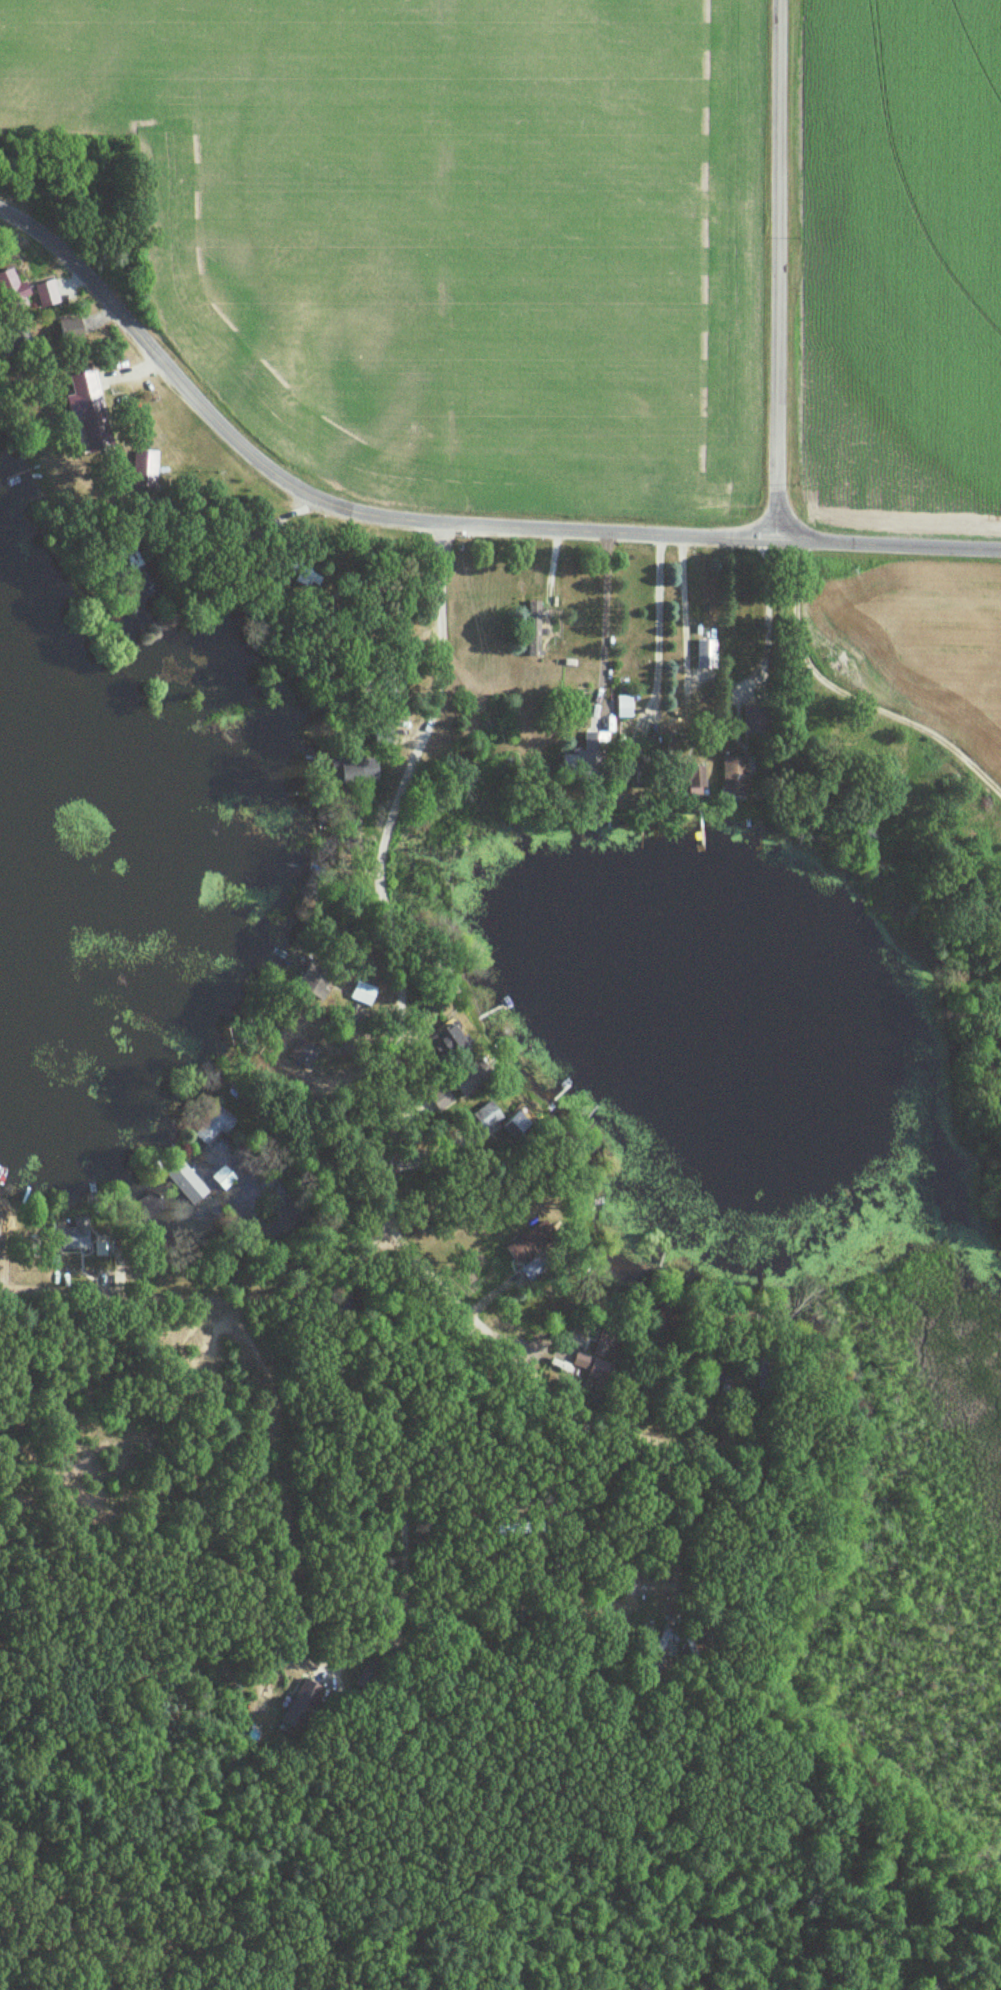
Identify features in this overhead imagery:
road: (777, 266)
building: (49, 296)
building: (93, 413)
road: (441, 525)
road: (681, 605)
road: (764, 616)
road: (602, 617)
road: (653, 620)
road: (845, 690)
building: (601, 742)
building: (728, 776)
road: (379, 863)
building: (367, 994)
building: (490, 1117)
building: (515, 1131)
building: (222, 1178)
building: (75, 1239)
building: (101, 1252)
road: (211, 1301)
road: (499, 1348)
road: (280, 1478)
building: (661, 1641)
building: (297, 1704)

